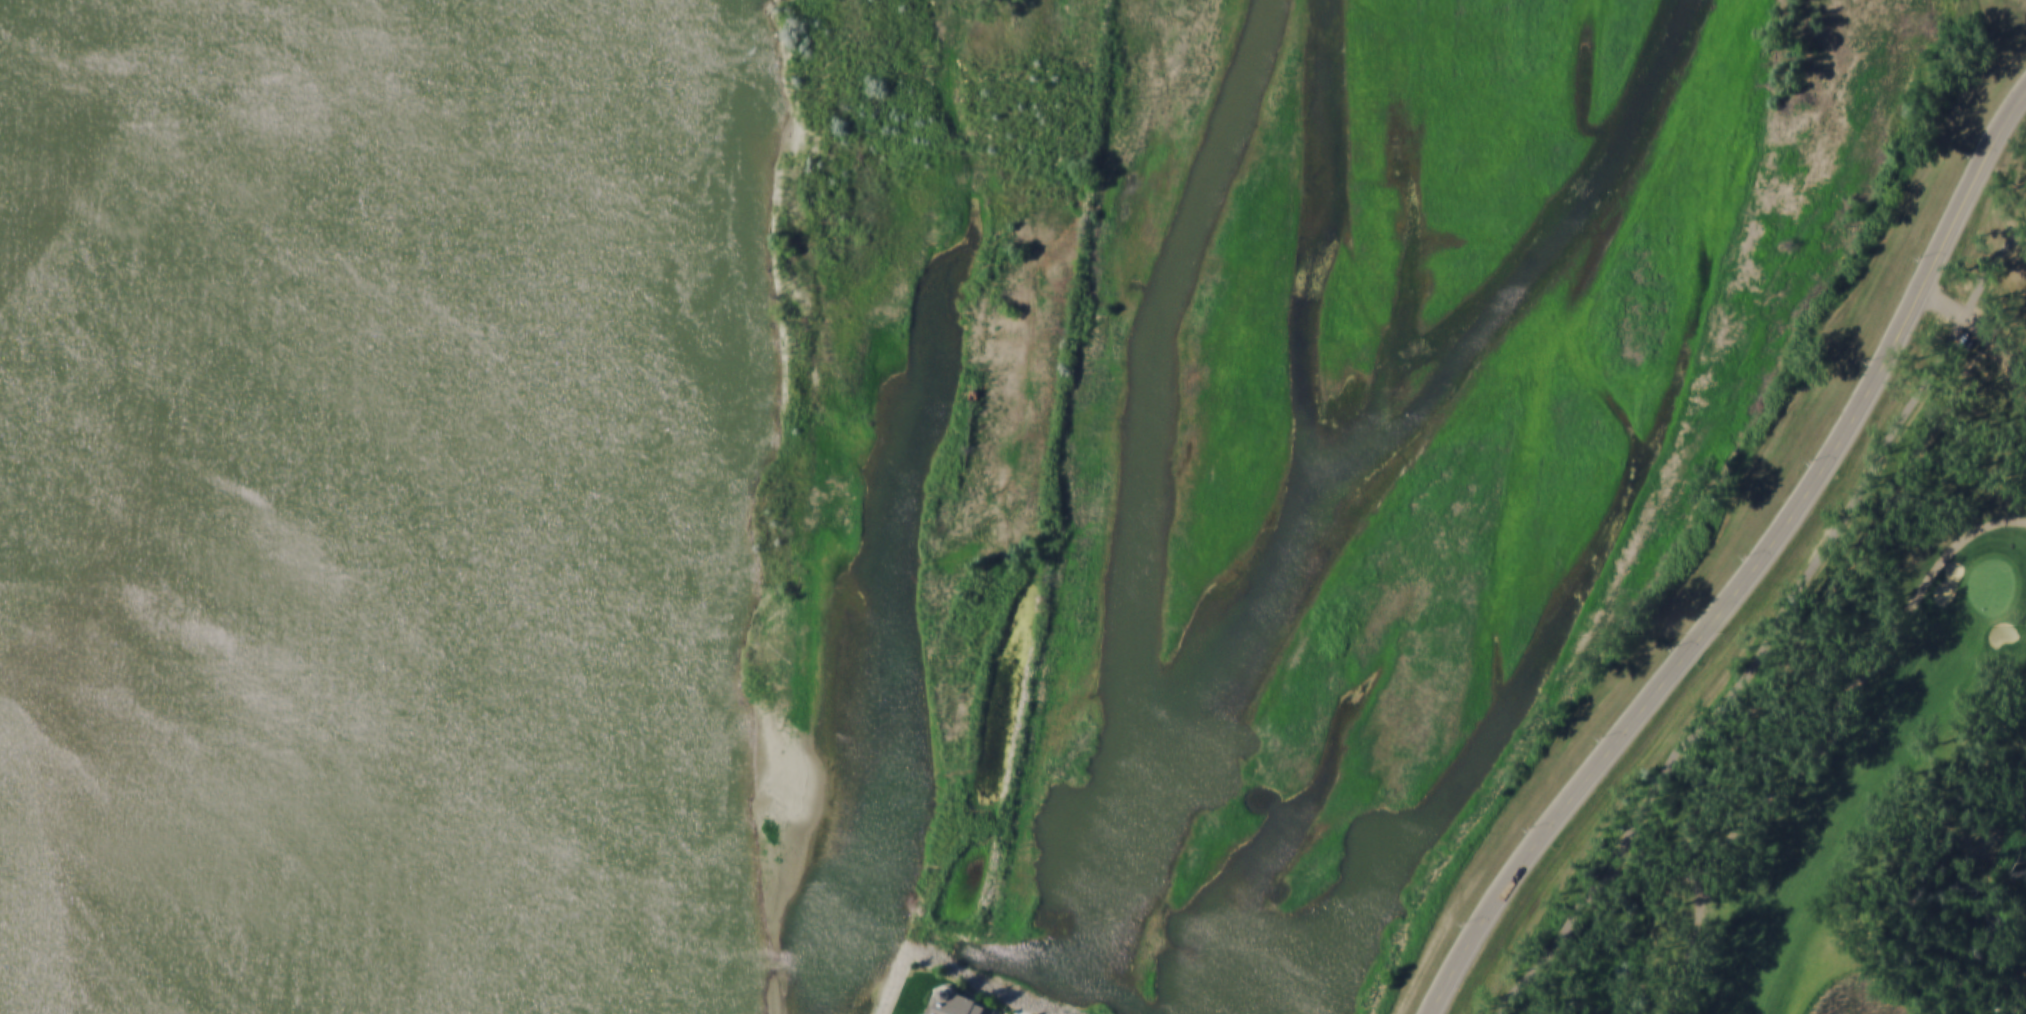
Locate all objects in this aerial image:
street lamp: (1970, 152)
street lamp: (1920, 256)
road: (1984, 328)
street lamp: (1869, 360)
street lamp: (1810, 461)
river: (488, 509)
street lamp: (1745, 555)
road: (1754, 569)
road: (1773, 628)
street lamp: (1673, 646)
street lamp: (1601, 736)
road: (1829, 744)
park: (1880, 763)
street lamp: (1529, 827)
street lamp: (1464, 922)
building: (960, 1002)

